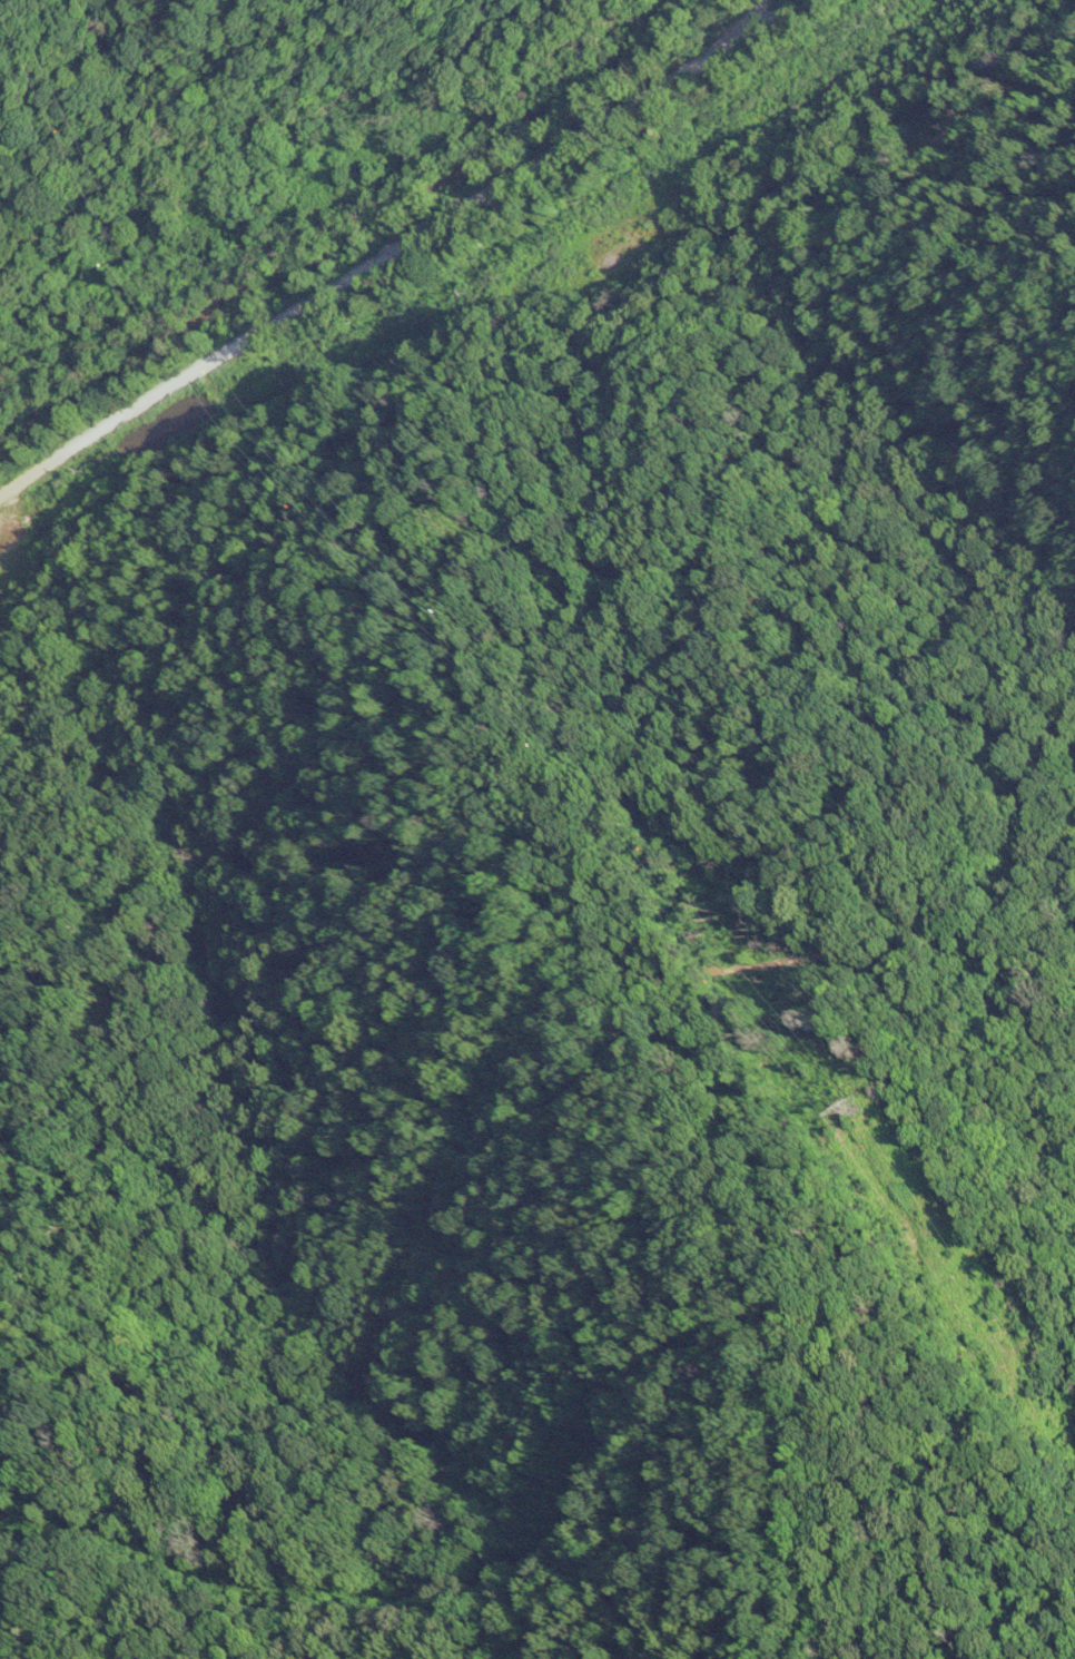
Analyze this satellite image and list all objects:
road: (381, 261)

